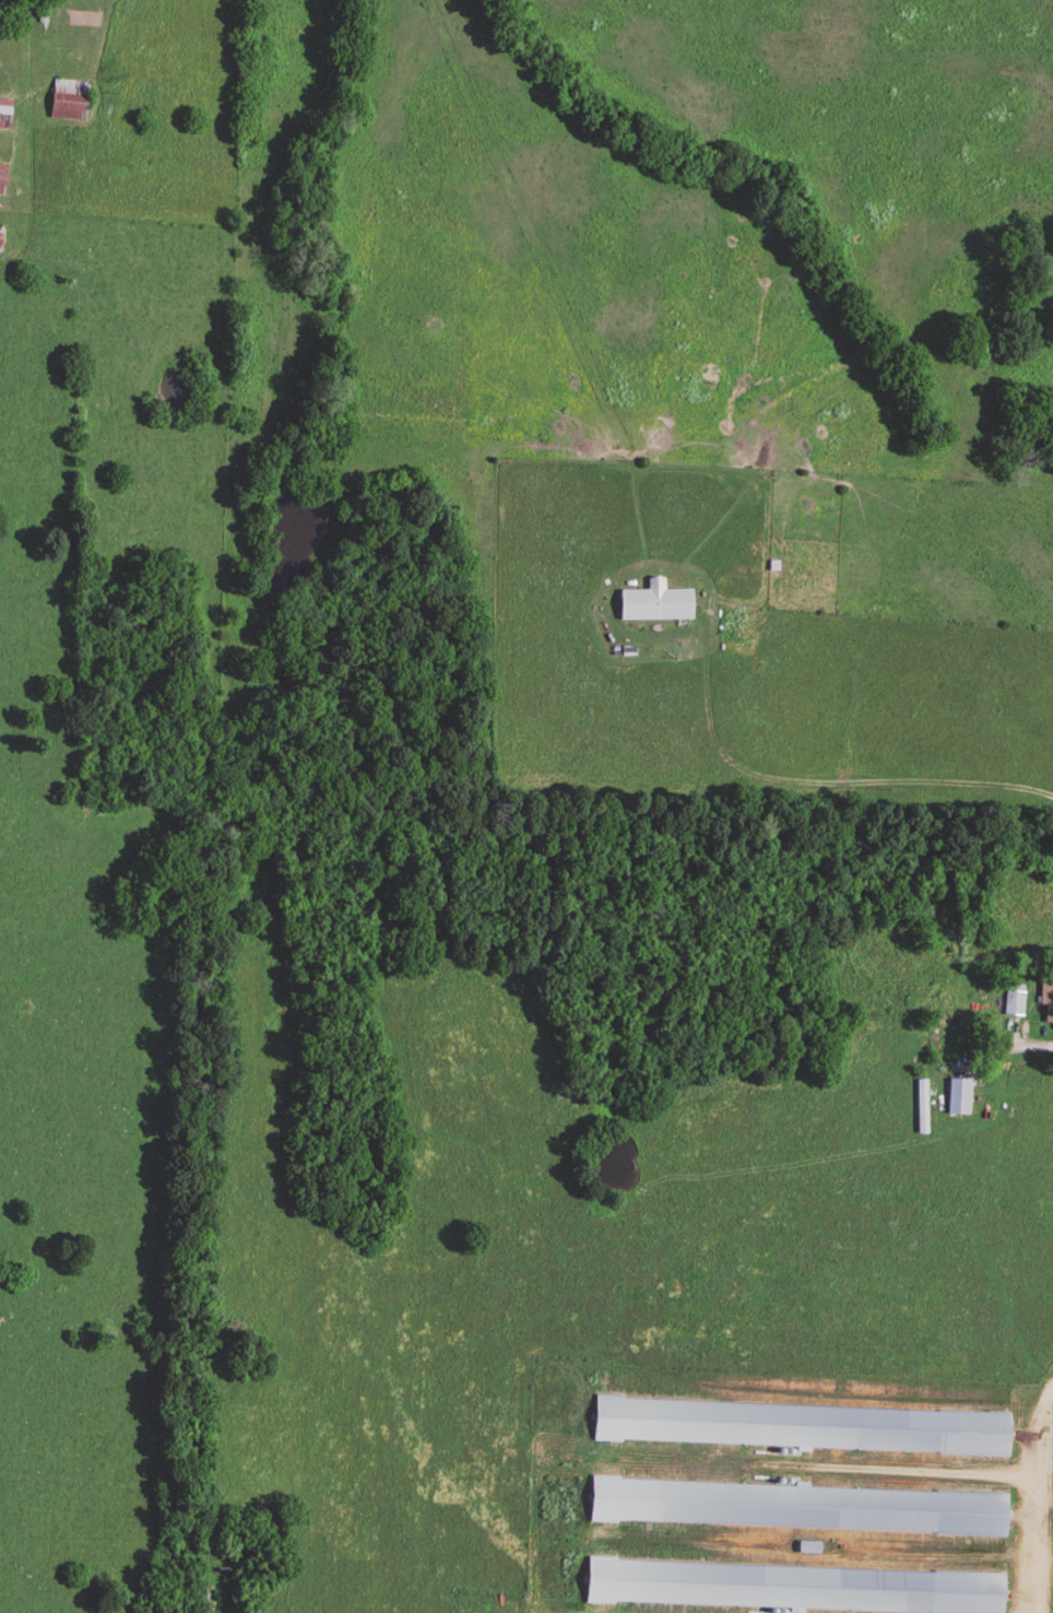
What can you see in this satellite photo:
building: (68, 102)
building: (4, 115)
building: (2, 179)
building: (0, 236)
building: (654, 604)
road: (815, 780)
building: (1013, 1002)
building: (1046, 1002)
road: (1022, 1040)
building: (957, 1098)

